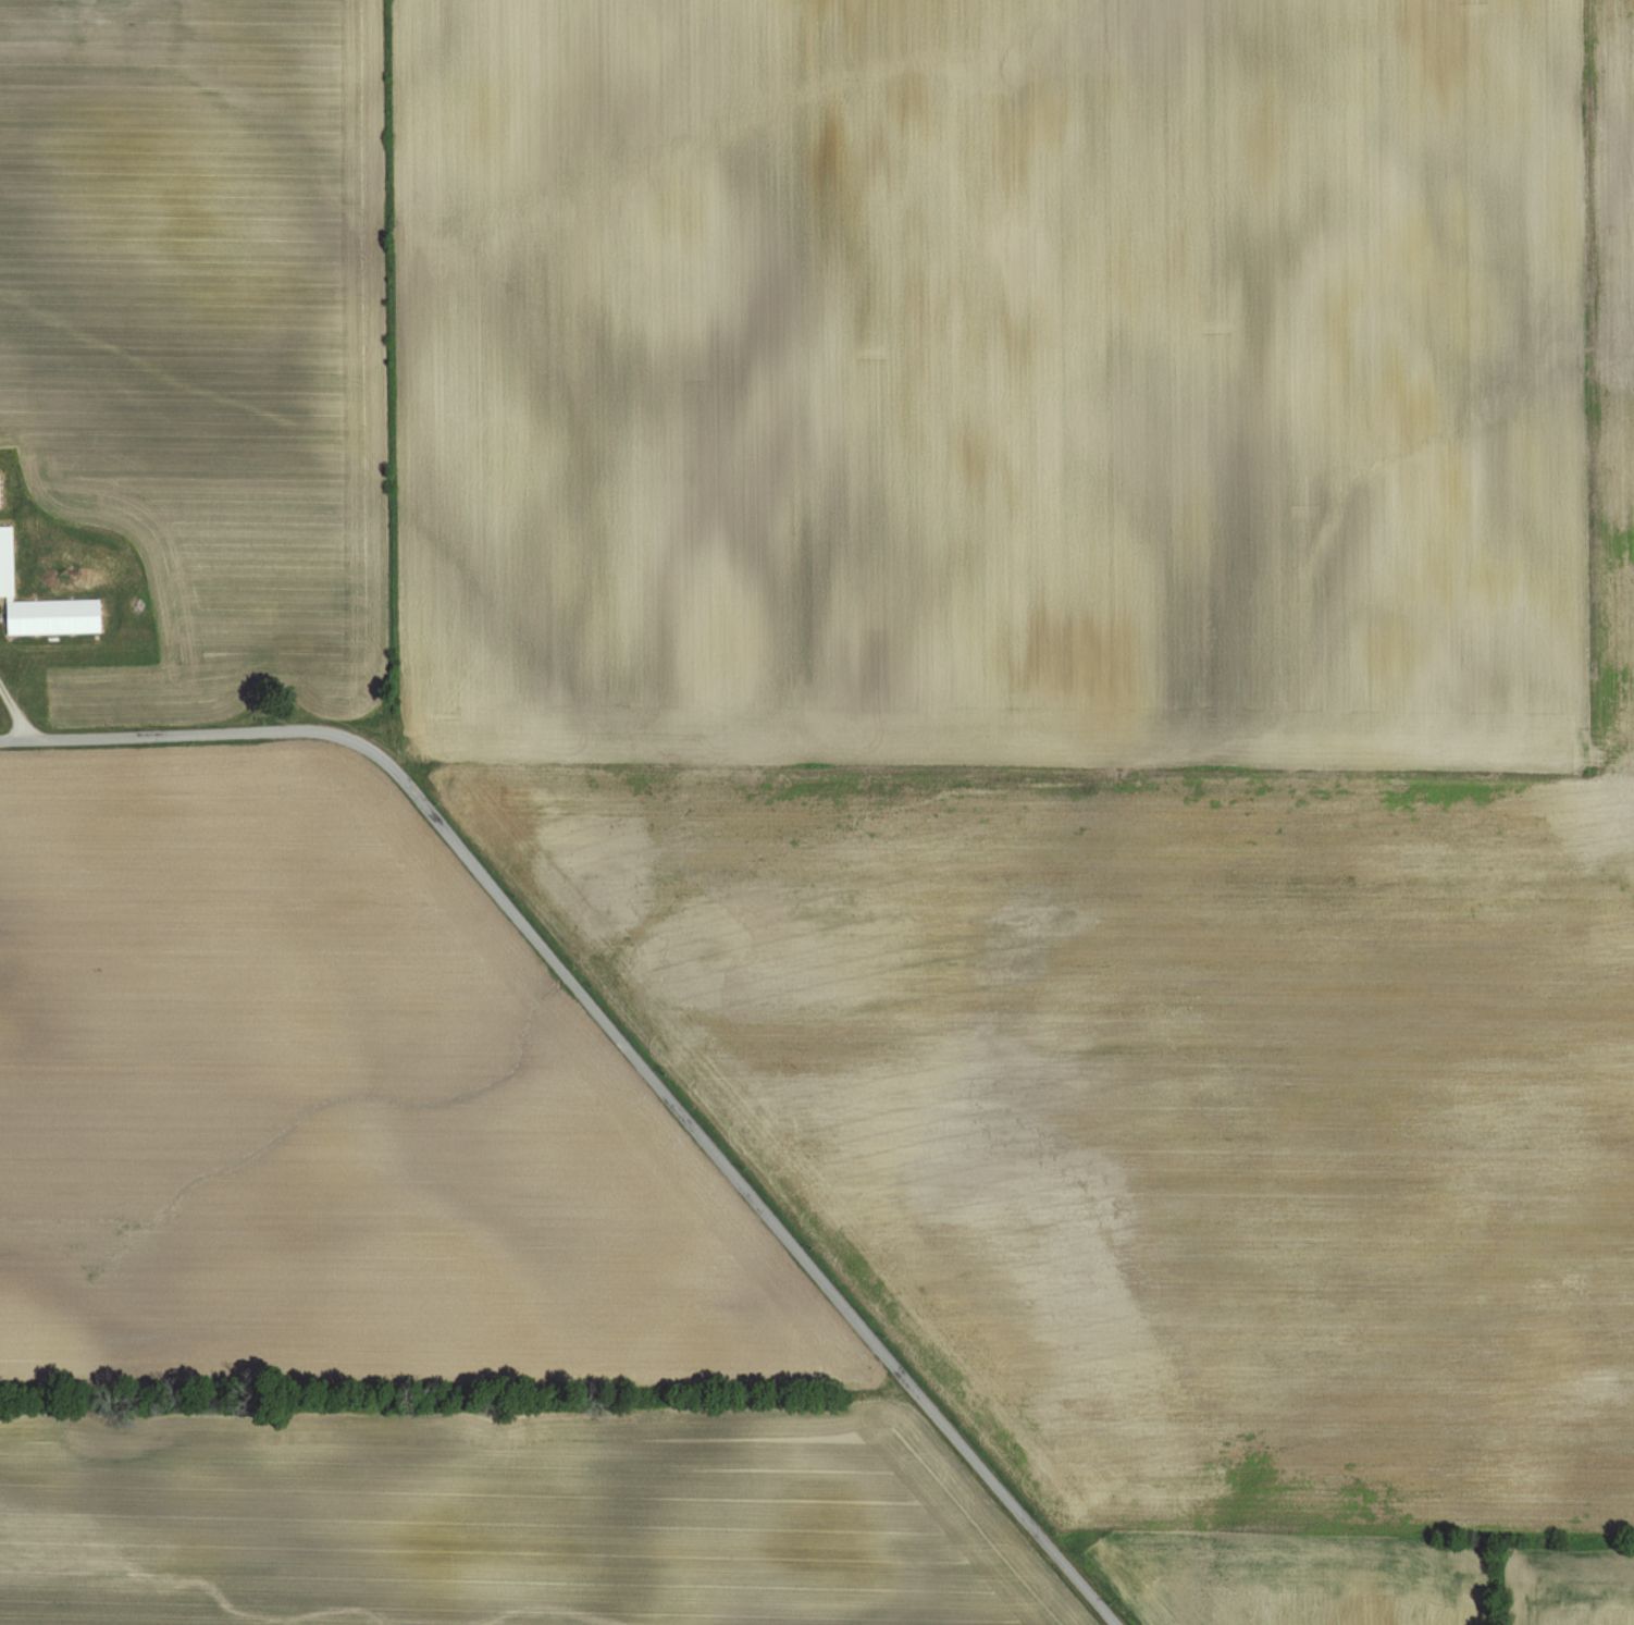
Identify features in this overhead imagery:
building: (42, 604)
road: (14, 710)
road: (623, 1043)

